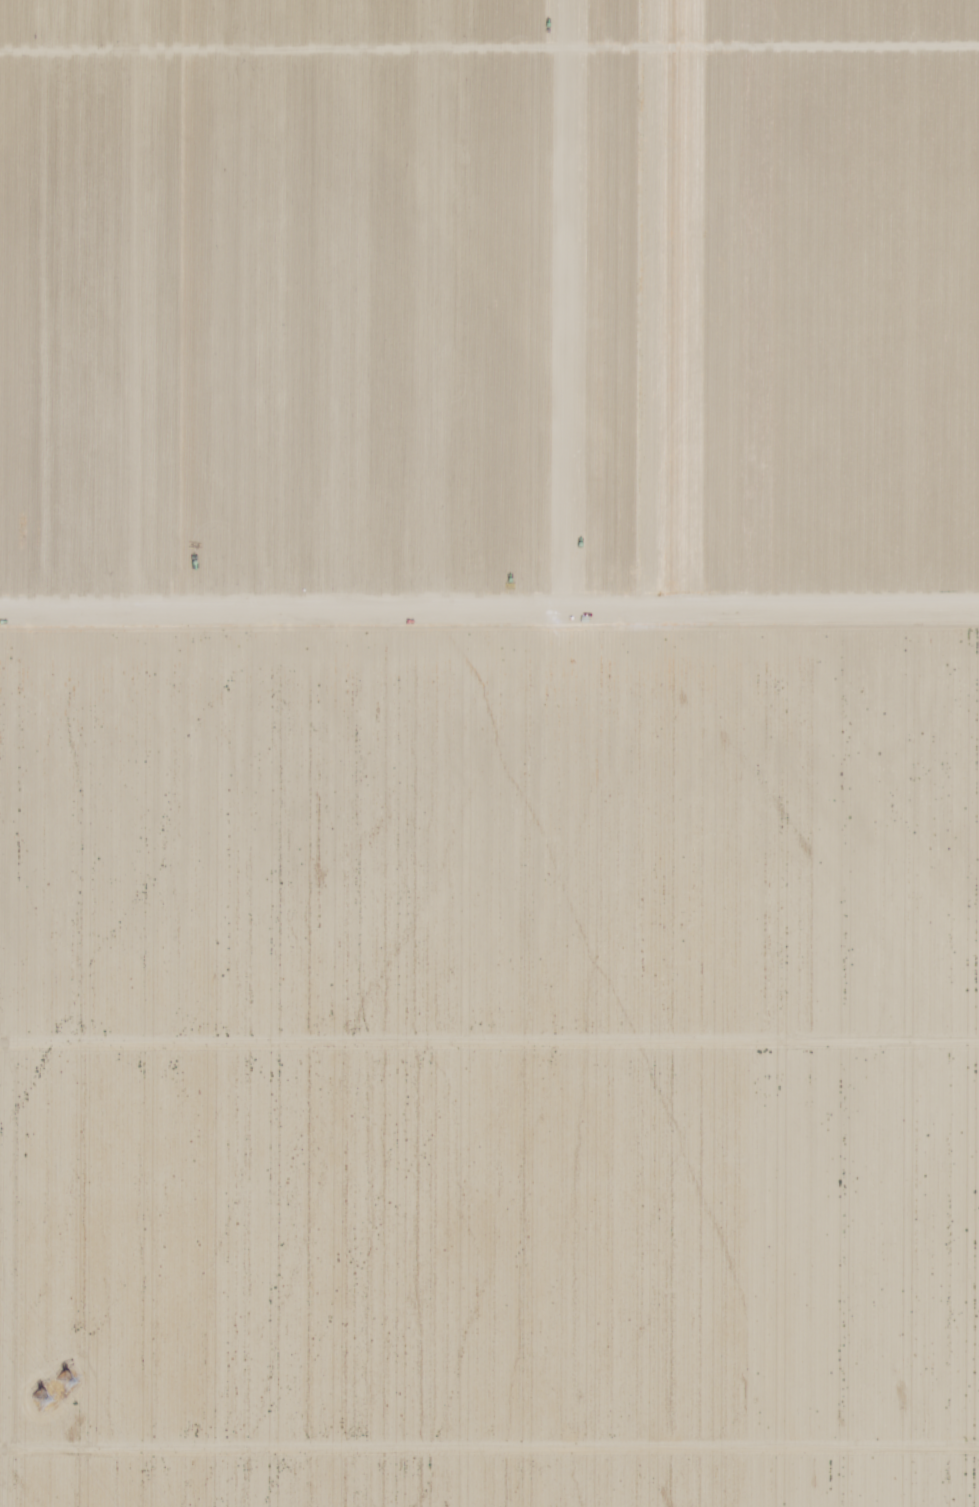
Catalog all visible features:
crop: (489, 753)
power tower: (52, 1388)

